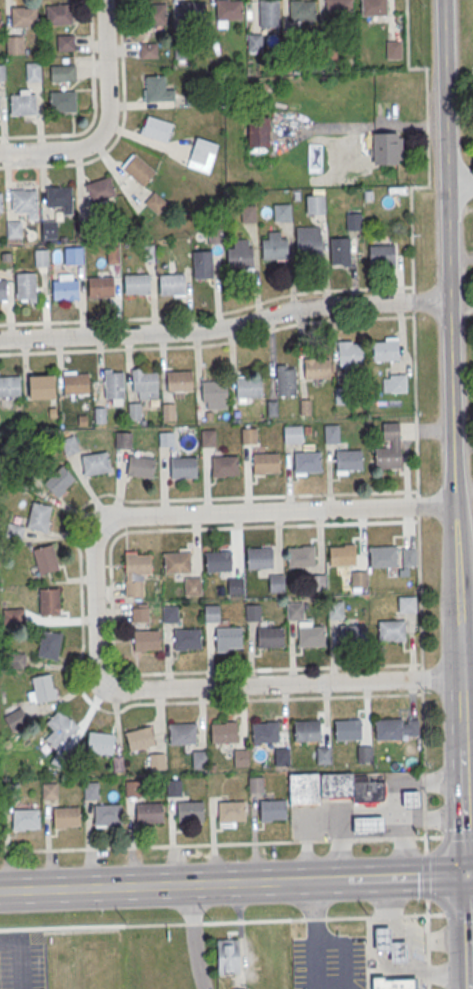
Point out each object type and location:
building: (374, 8)
building: (339, 9)
building: (302, 10)
building: (229, 11)
building: (193, 13)
building: (59, 14)
building: (269, 14)
building: (153, 15)
building: (24, 17)
building: (0, 21)
building: (65, 42)
building: (14, 44)
building: (255, 44)
building: (183, 50)
building: (148, 51)
building: (394, 51)
building: (292, 54)
building: (328, 55)
building: (33, 71)
building: (2, 72)
building: (62, 72)
building: (157, 88)
building: (61, 100)
building: (23, 103)
road: (94, 109)
road: (106, 120)
building: (156, 128)
road: (119, 132)
building: (258, 134)
road: (427, 142)
building: (387, 150)
building: (201, 156)
building: (138, 169)
road: (461, 184)
building: (100, 189)
building: (58, 195)
building: (24, 199)
building: (0, 201)
building: (155, 202)
building: (315, 205)
building: (282, 213)
building: (248, 214)
building: (353, 221)
building: (49, 228)
building: (14, 229)
building: (216, 237)
building: (309, 242)
building: (275, 250)
building: (341, 252)
building: (112, 254)
building: (74, 255)
building: (240, 255)
building: (5, 256)
building: (40, 257)
building: (382, 257)
building: (203, 265)
building: (136, 283)
building: (171, 283)
building: (25, 285)
building: (100, 286)
building: (3, 289)
building: (64, 289)
road: (306, 292)
road: (226, 327)
road: (451, 339)
road: (208, 345)
building: (385, 352)
building: (351, 353)
building: (317, 370)
building: (285, 379)
building: (180, 382)
building: (145, 383)
building: (398, 384)
building: (76, 385)
building: (113, 386)
building: (10, 387)
building: (43, 387)
building: (249, 388)
building: (214, 391)
building: (343, 396)
building: (305, 408)
building: (272, 409)
building: (134, 412)
building: (169, 413)
building: (332, 434)
building: (293, 435)
building: (249, 436)
building: (208, 438)
building: (166, 440)
building: (123, 441)
building: (69, 444)
building: (387, 457)
building: (348, 459)
building: (306, 461)
building: (265, 462)
building: (96, 464)
building: (224, 465)
building: (183, 466)
building: (140, 468)
building: (59, 481)
road: (261, 496)
road: (240, 513)
building: (39, 516)
building: (14, 531)
building: (341, 555)
building: (300, 556)
building: (382, 556)
building: (409, 556)
building: (259, 557)
building: (45, 558)
building: (218, 560)
building: (176, 561)
building: (136, 570)
building: (358, 578)
building: (317, 582)
building: (276, 583)
building: (235, 584)
building: (192, 585)
building: (49, 600)
road: (111, 602)
building: (407, 604)
building: (335, 609)
building: (294, 610)
building: (252, 611)
building: (170, 613)
building: (211, 613)
building: (140, 614)
building: (391, 630)
building: (353, 632)
road: (466, 634)
building: (310, 635)
building: (228, 637)
building: (269, 637)
building: (187, 638)
building: (146, 639)
building: (49, 644)
building: (15, 659)
road: (240, 686)
building: (42, 688)
building: (14, 714)
building: (59, 728)
building: (388, 728)
building: (307, 729)
building: (347, 729)
building: (223, 731)
building: (264, 731)
building: (182, 733)
building: (139, 738)
building: (100, 742)
road: (467, 745)
building: (364, 753)
building: (323, 754)
building: (281, 756)
building: (240, 758)
building: (199, 759)
building: (156, 760)
road: (461, 777)
building: (255, 784)
building: (335, 785)
building: (132, 787)
building: (173, 787)
building: (303, 789)
building: (49, 790)
building: (90, 790)
building: (367, 790)
building: (410, 798)
building: (272, 809)
building: (189, 811)
building: (231, 811)
building: (148, 812)
building: (106, 815)
building: (66, 816)
building: (25, 819)
building: (367, 824)
road: (448, 835)
road: (402, 837)
road: (17, 850)
road: (468, 875)
traffic signals: (464, 876)
road: (403, 878)
road: (310, 881)
road: (138, 886)
road: (465, 932)
road: (193, 937)
building: (389, 944)
road: (412, 944)
road: (315, 951)
road: (20, 955)
building: (227, 956)
parking lot: (21, 962)
road: (469, 971)
building: (392, 982)

